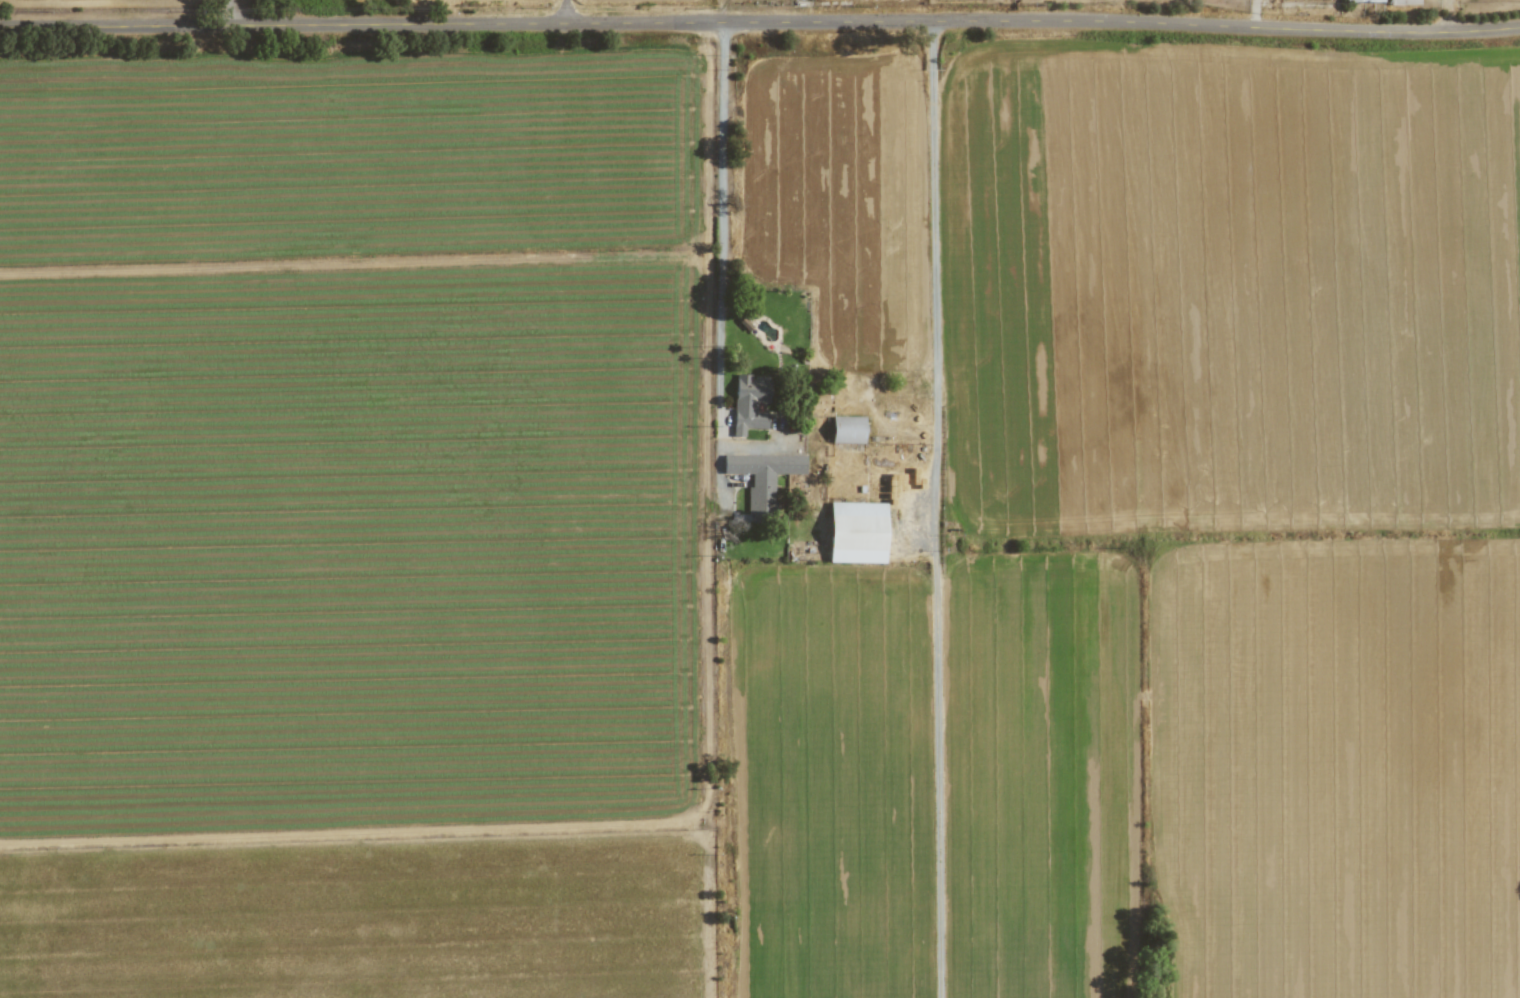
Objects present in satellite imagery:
building: (1363, 0)
building: (1403, 2)
road: (563, 11)
road: (231, 12)
road: (760, 21)
road: (720, 216)
road: (933, 276)
building: (749, 403)
building: (847, 429)
building: (762, 478)
building: (856, 532)

